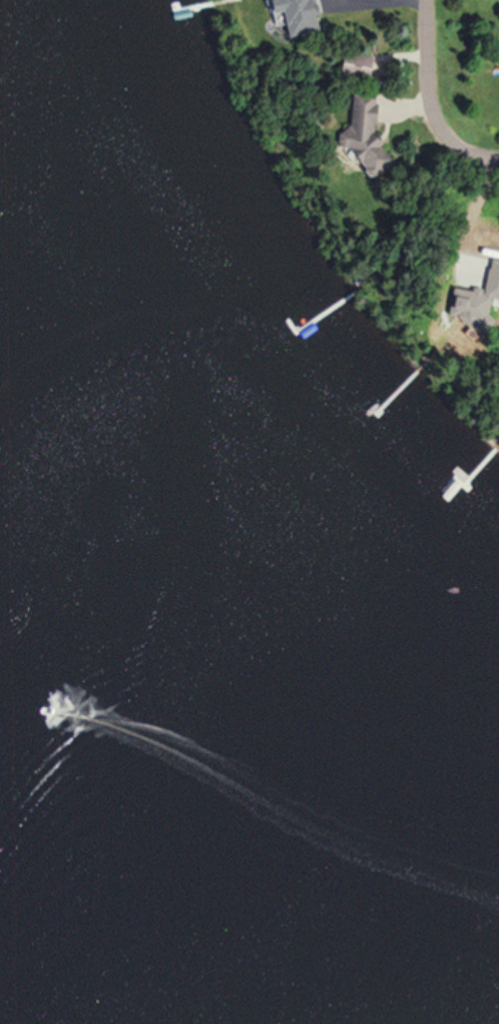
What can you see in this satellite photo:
road: (428, 75)
building: (374, 133)
road: (480, 147)

